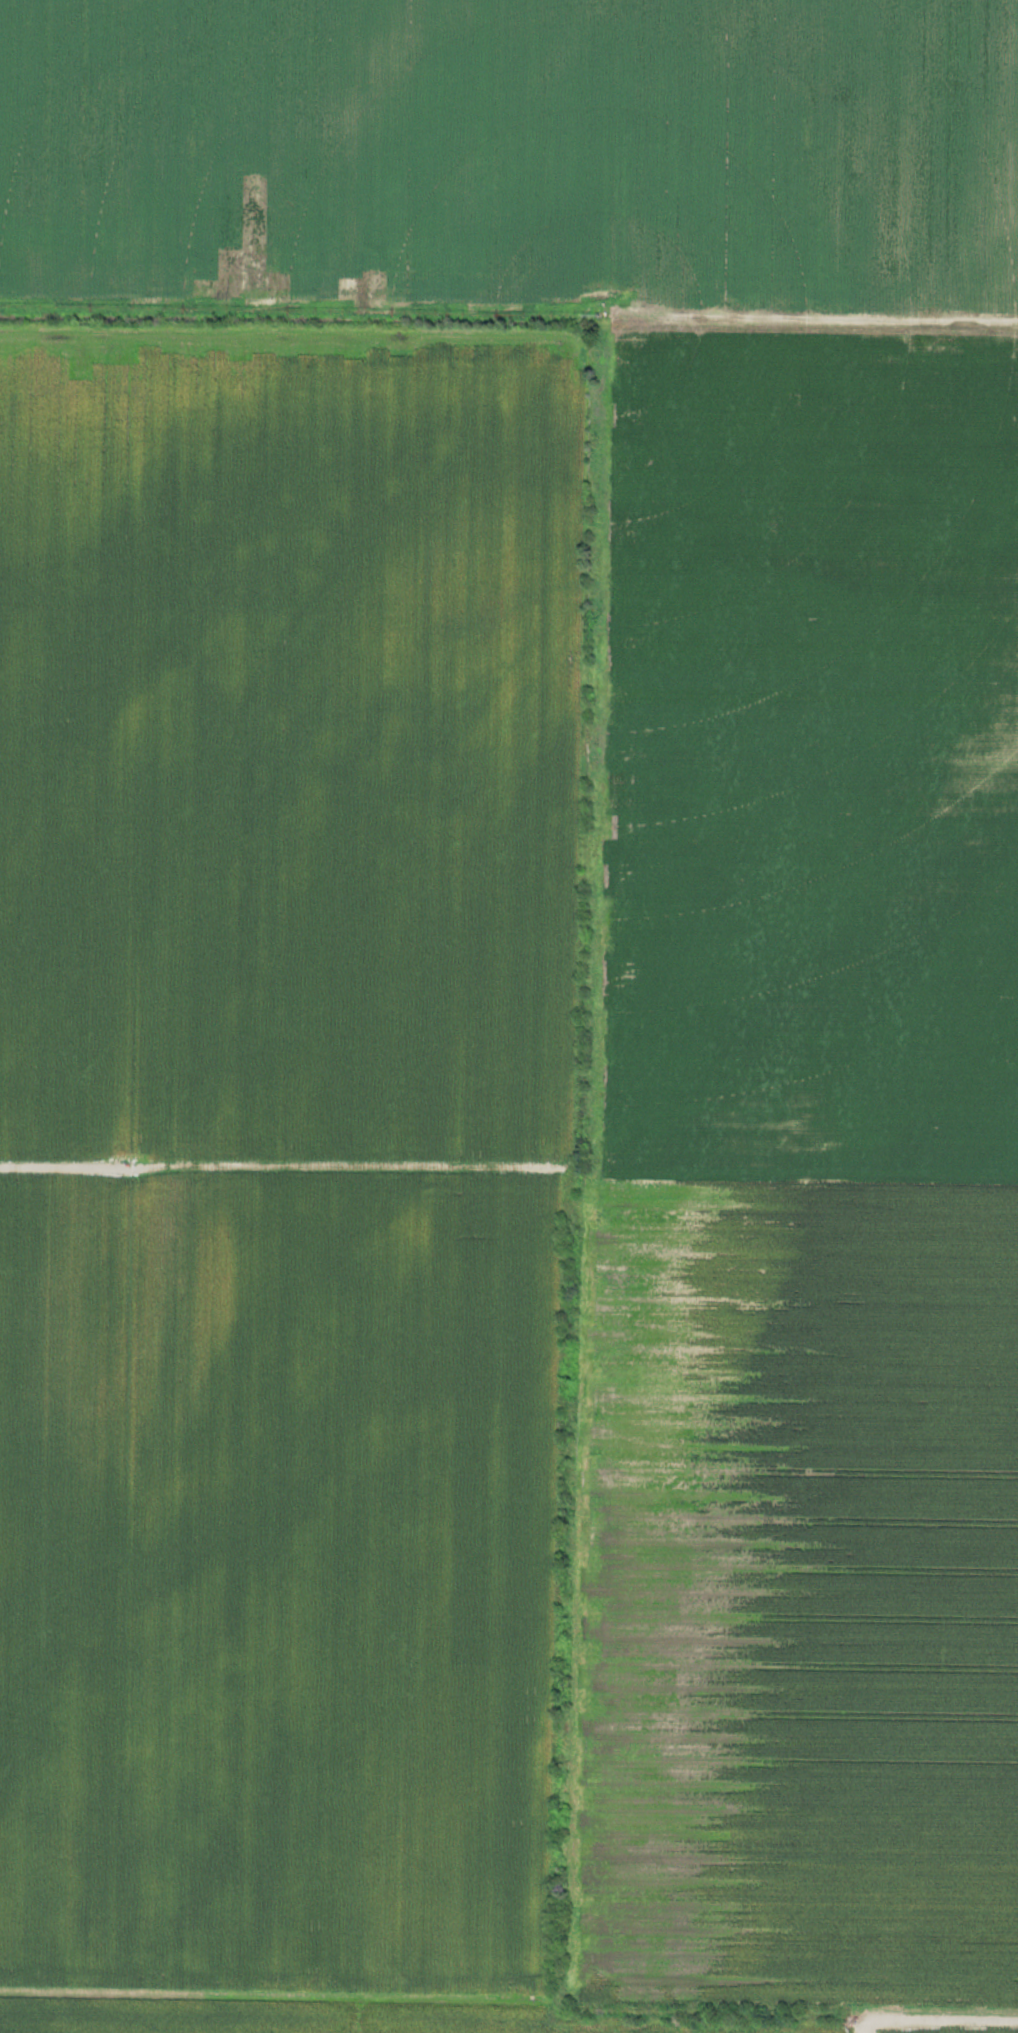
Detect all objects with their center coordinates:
road: (818, 315)
road: (263, 1168)

